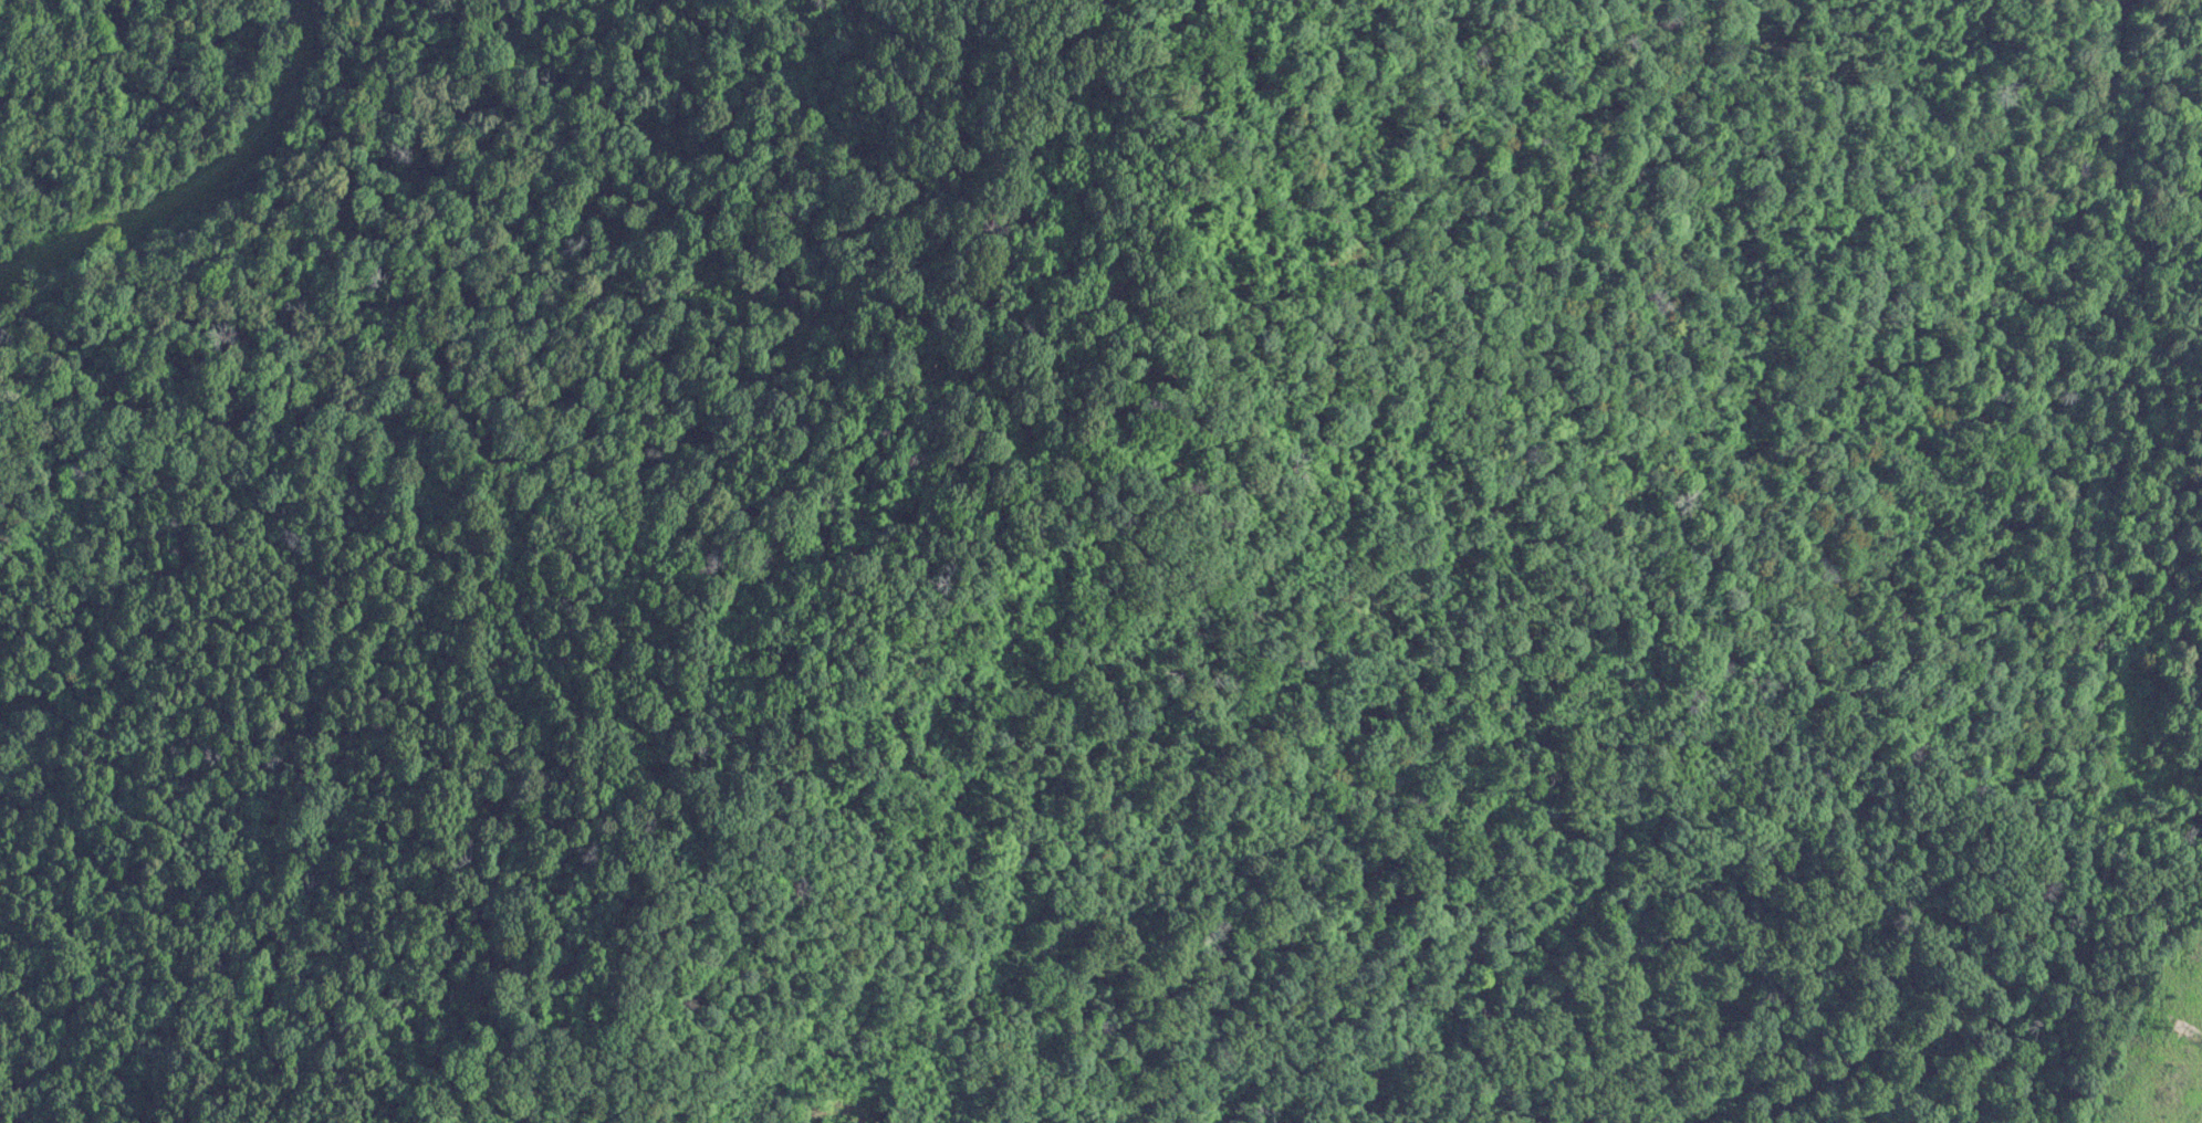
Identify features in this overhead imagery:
power tower: (2183, 1027)

